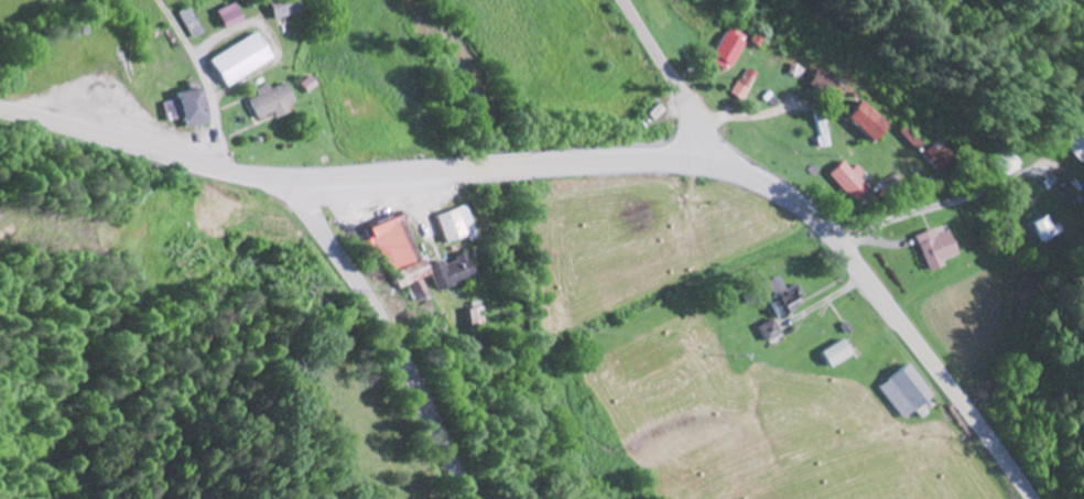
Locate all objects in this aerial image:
building: (284, 7)
building: (191, 22)
building: (739, 47)
building: (241, 57)
road: (674, 78)
road: (205, 79)
building: (832, 82)
building: (277, 98)
building: (188, 107)
building: (878, 120)
building: (1077, 144)
road: (140, 148)
building: (950, 155)
road: (618, 159)
road: (491, 166)
road: (371, 176)
building: (854, 181)
building: (454, 225)
building: (1049, 227)
building: (940, 248)
building: (393, 250)
building: (193, 253)
building: (451, 271)
building: (788, 299)
road: (896, 310)
building: (474, 316)
building: (772, 330)
road: (380, 334)
building: (841, 352)
building: (910, 392)

